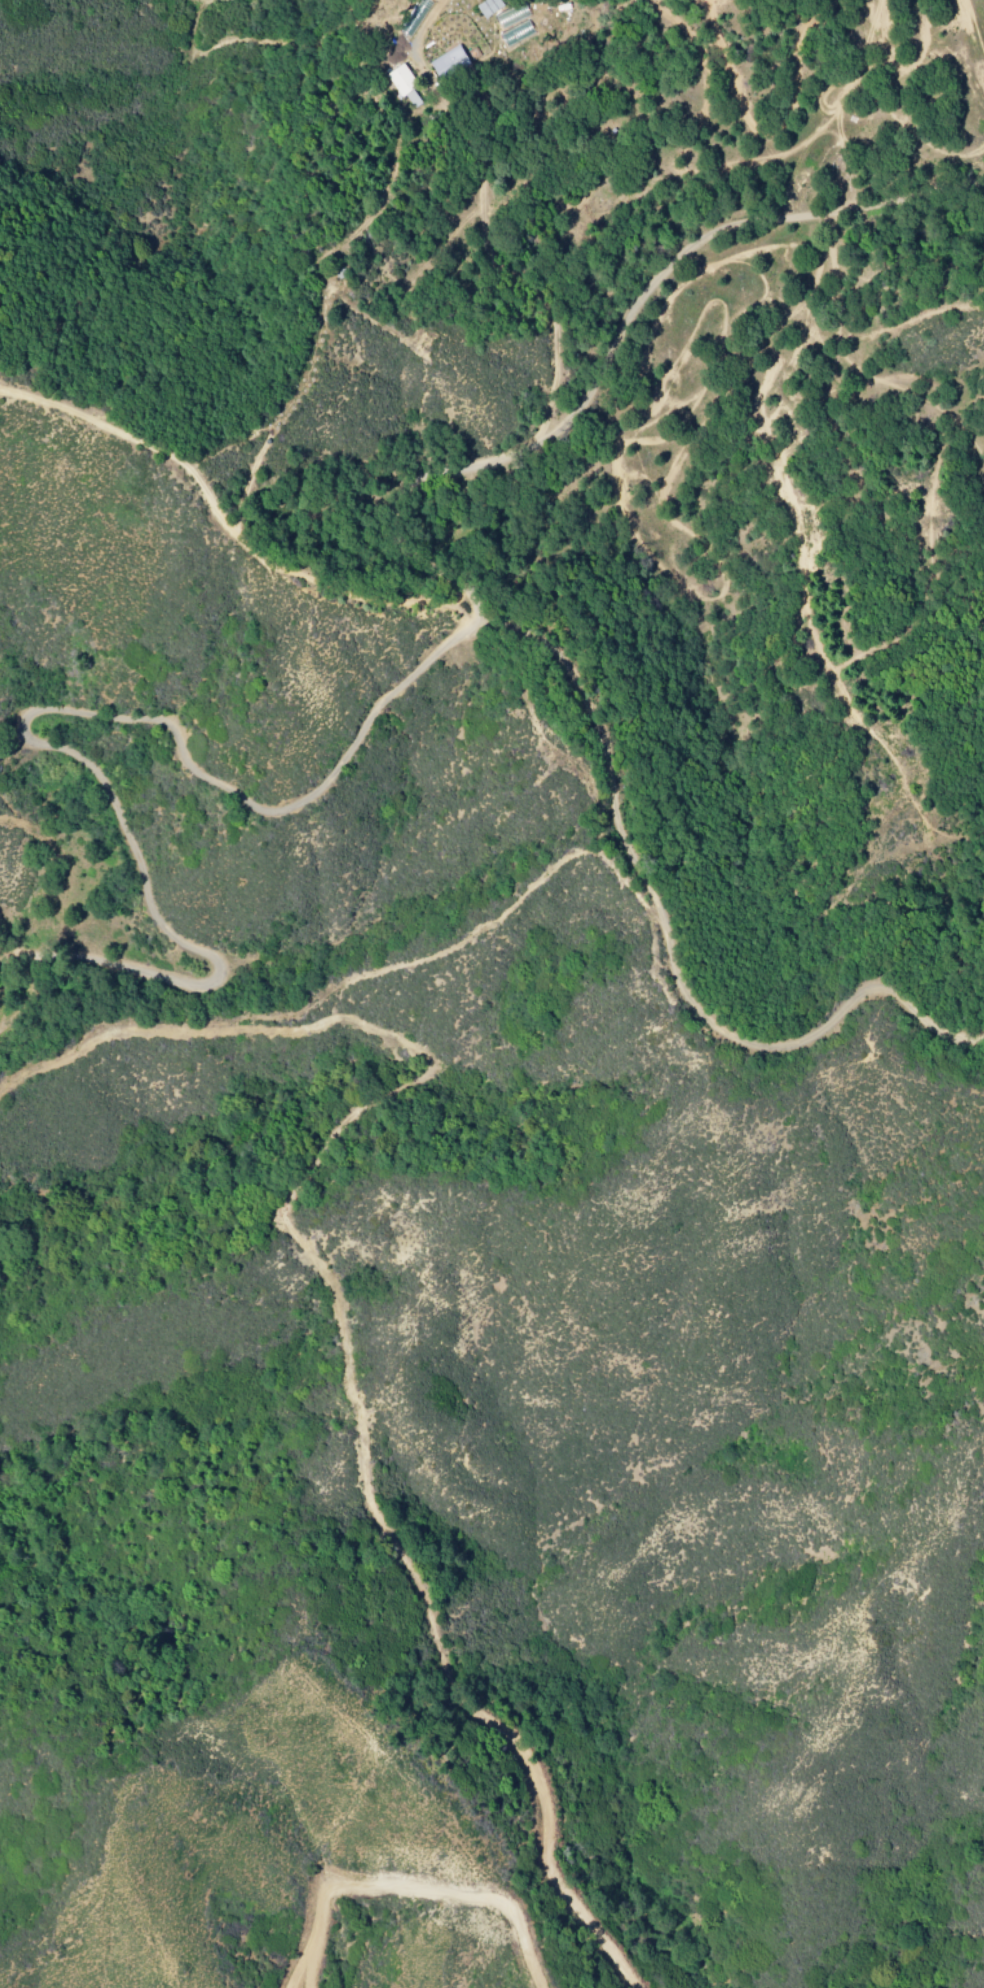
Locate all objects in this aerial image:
building: (495, 9)
building: (454, 65)
building: (408, 87)
road: (830, 214)
road: (494, 461)
road: (225, 525)
road: (53, 712)
road: (601, 728)
road: (455, 945)
road: (22, 946)
road: (98, 1041)
road: (794, 1045)
road: (354, 1407)

